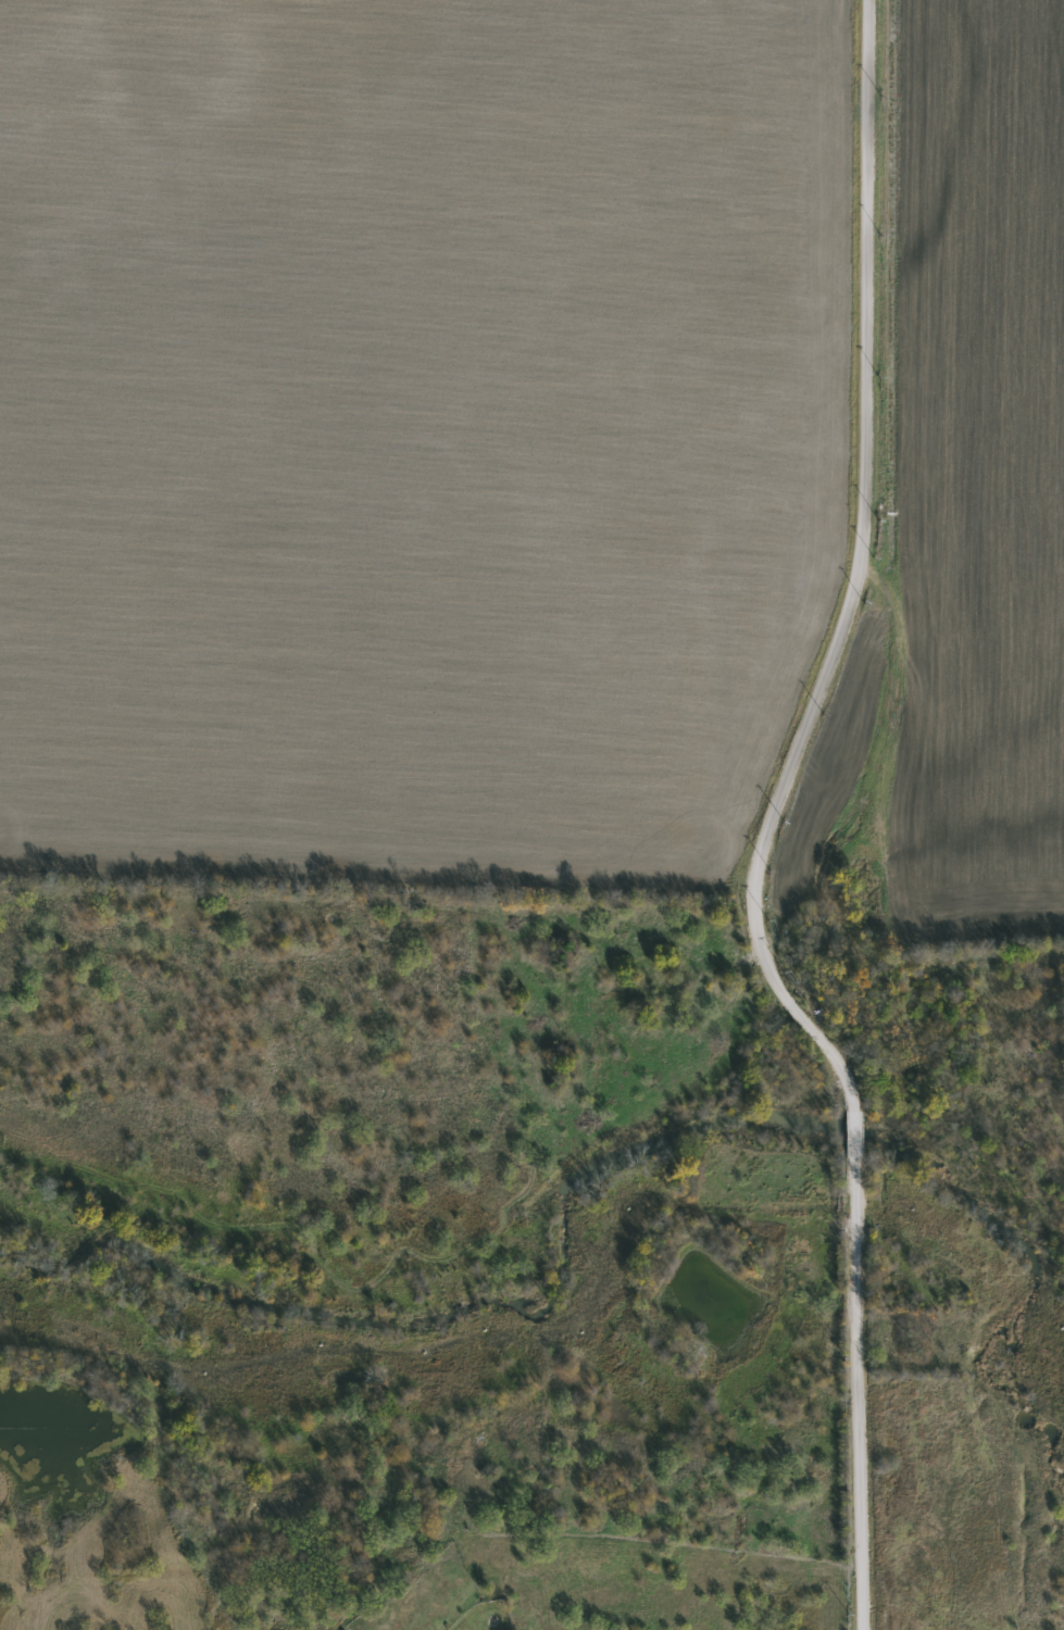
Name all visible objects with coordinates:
crop: (409, 432)
road: (849, 581)
road: (854, 1140)
road: (858, 1395)

